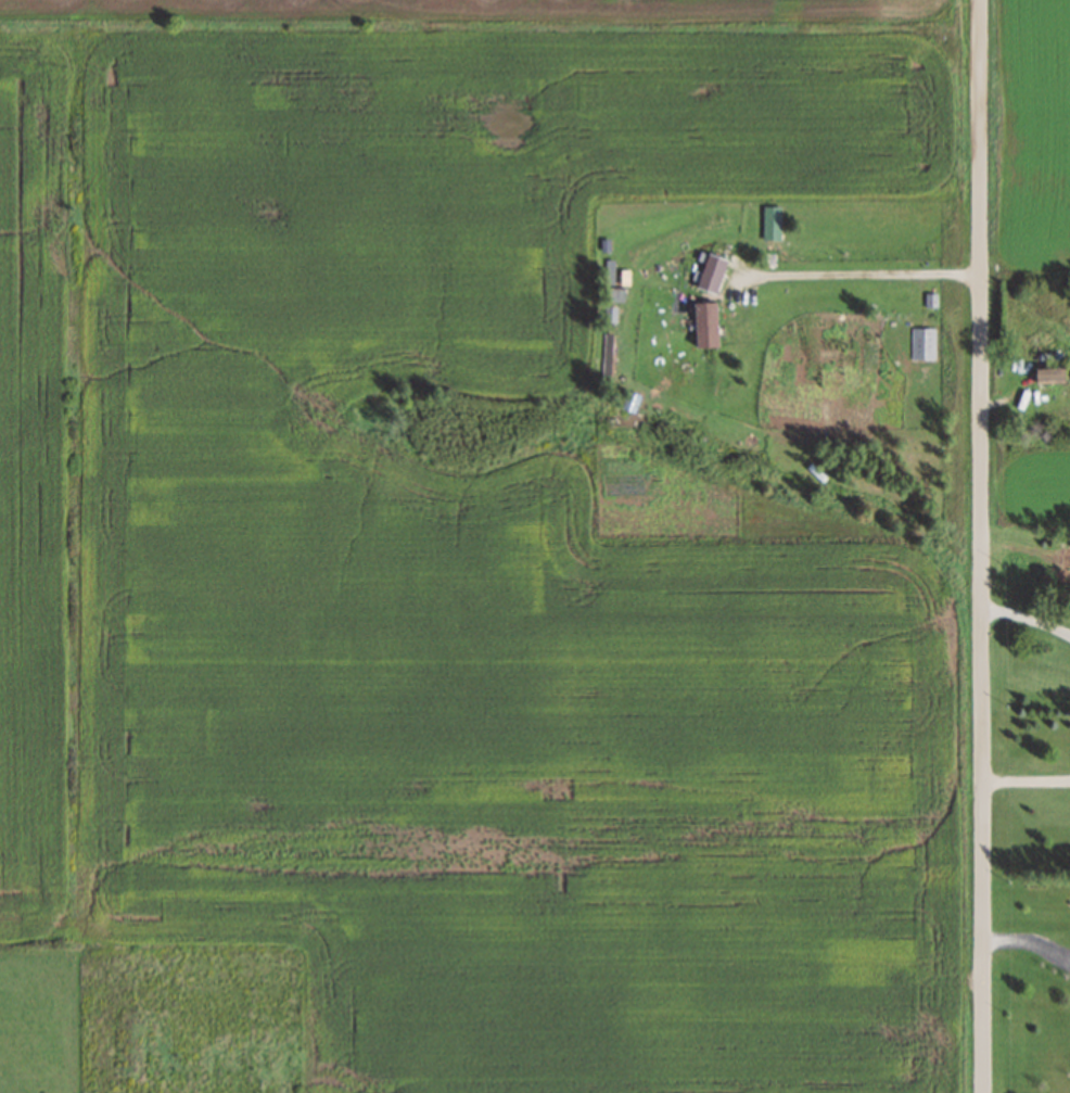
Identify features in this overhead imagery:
building: (587, 243)
building: (711, 272)
building: (704, 323)
building: (1047, 376)
road: (983, 546)
road: (1028, 618)
road: (1028, 779)

